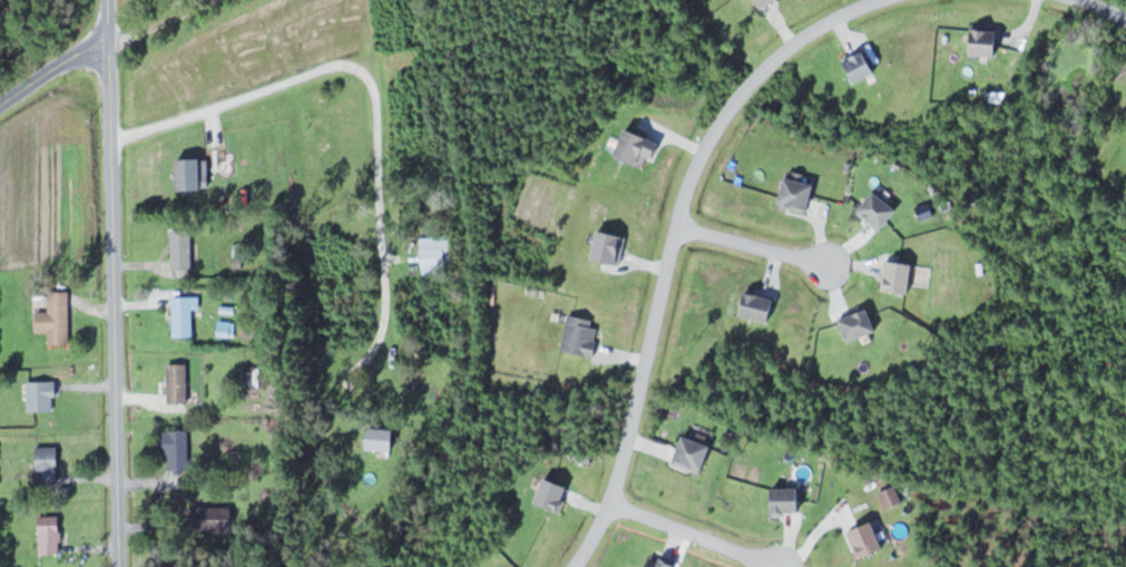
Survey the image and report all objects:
building: (763, 3)
road: (1104, 10)
road: (107, 14)
building: (986, 40)
building: (861, 65)
road: (53, 68)
road: (227, 99)
building: (335, 105)
road: (376, 143)
building: (638, 146)
building: (195, 172)
building: (800, 193)
building: (879, 209)
road: (754, 243)
building: (610, 245)
road: (669, 245)
building: (183, 248)
building: (437, 255)
building: (900, 275)
road: (114, 297)
building: (758, 305)
building: (185, 314)
building: (60, 323)
building: (861, 323)
building: (581, 334)
building: (178, 382)
building: (42, 394)
building: (382, 438)
building: (178, 450)
building: (694, 453)
building: (48, 463)
building: (554, 493)
building: (786, 499)
building: (215, 519)
building: (50, 534)
road: (693, 534)
building: (868, 539)
building: (662, 561)

